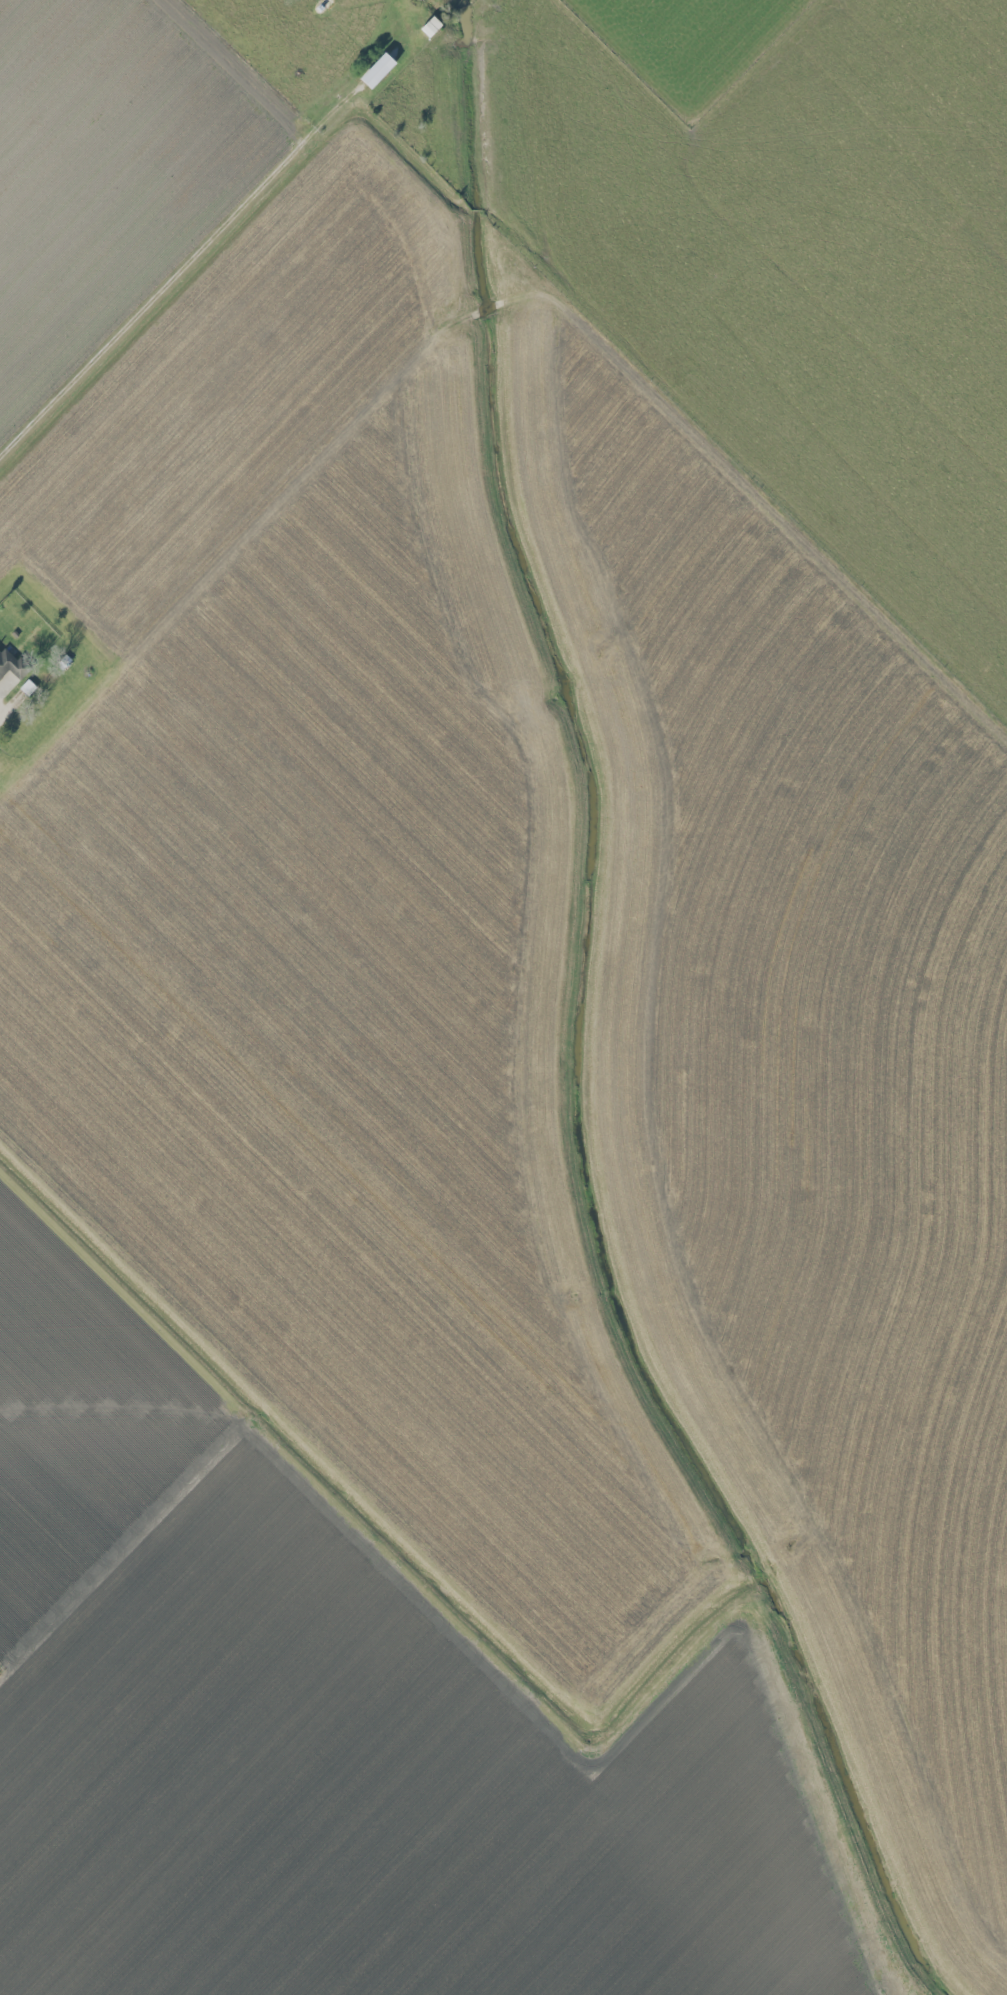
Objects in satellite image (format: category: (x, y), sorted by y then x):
road: (475, 23)
building: (378, 70)
road: (175, 276)

